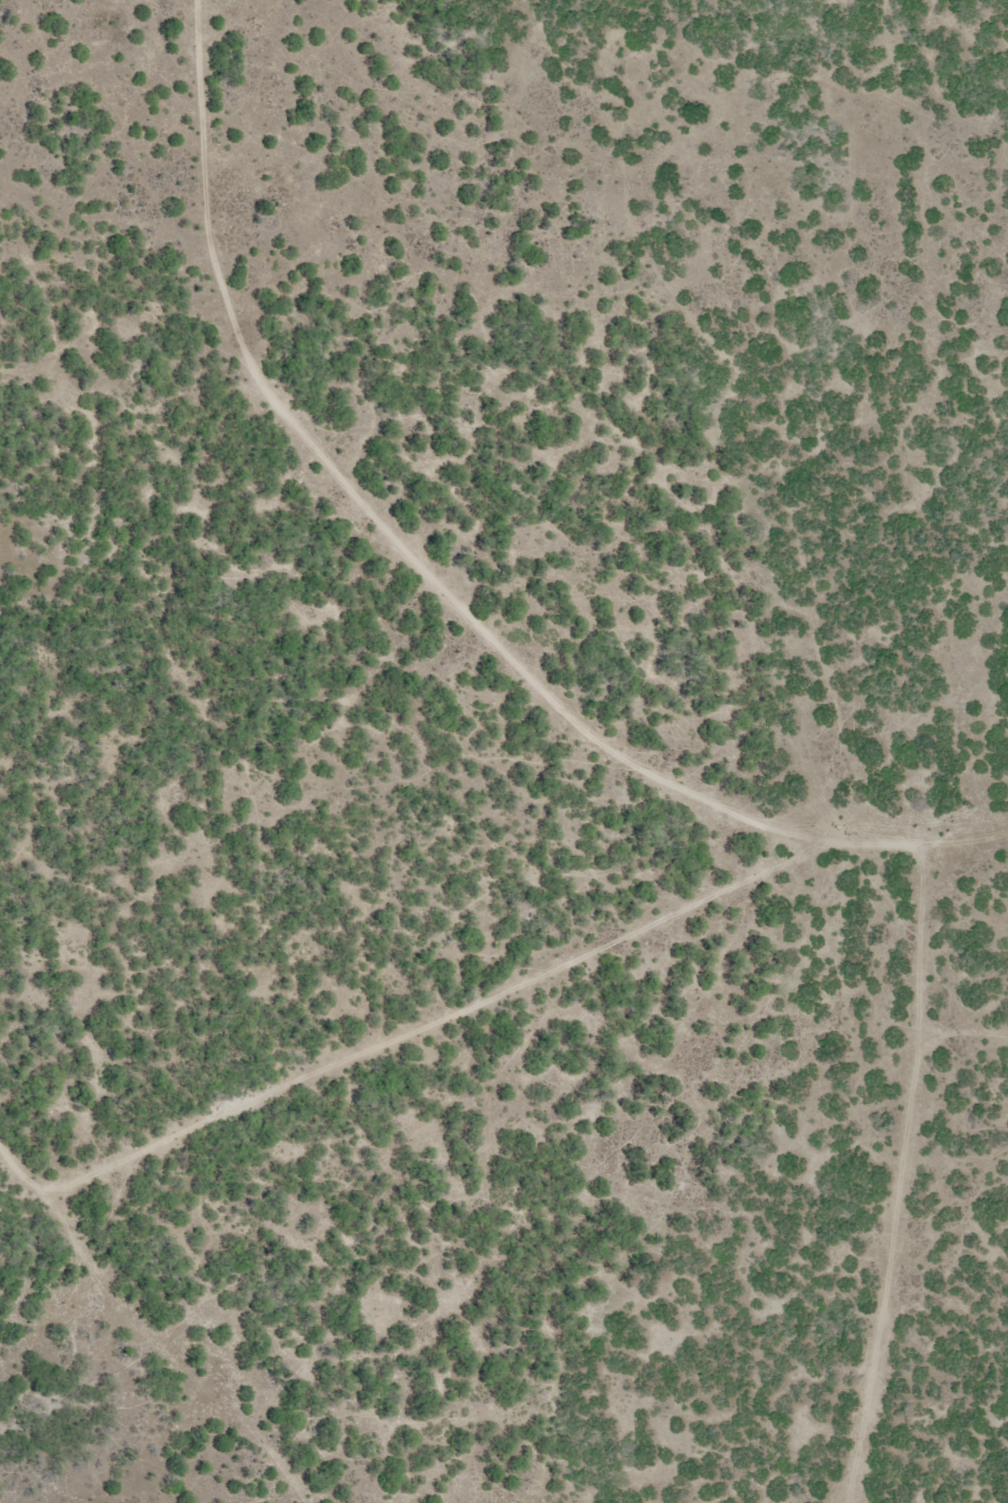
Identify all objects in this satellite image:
road: (472, 1344)

